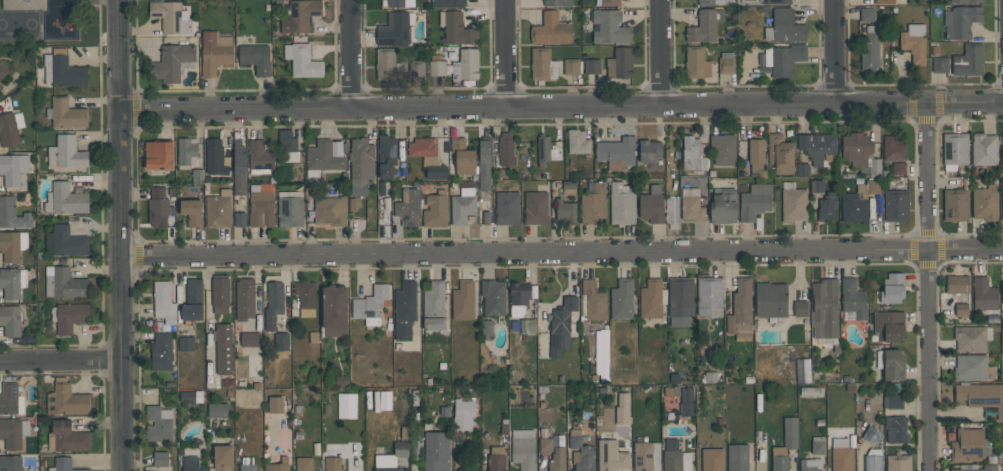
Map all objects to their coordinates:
building: (883, 1)
building: (966, 1)
building: (556, 2)
building: (608, 2)
building: (710, 2)
building: (776, 2)
building: (400, 3)
building: (448, 3)
building: (23, 4)
building: (867, 14)
building: (300, 15)
building: (170, 16)
building: (960, 21)
building: (704, 26)
building: (610, 27)
building: (784, 27)
building: (395, 28)
building: (551, 29)
building: (457, 30)
building: (913, 43)
building: (870, 49)
building: (214, 51)
road: (831, 52)
road: (658, 53)
road: (504, 54)
road: (348, 55)
building: (256, 58)
building: (784, 58)
building: (968, 60)
building: (302, 61)
building: (172, 62)
building: (619, 63)
building: (696, 63)
building: (726, 63)
building: (385, 64)
building: (542, 64)
building: (940, 64)
building: (466, 65)
building: (571, 66)
building: (592, 66)
building: (416, 68)
building: (437, 68)
building: (62, 69)
building: (2, 70)
building: (0, 86)
road: (563, 108)
building: (67, 113)
building: (10, 127)
building: (577, 141)
building: (287, 145)
building: (817, 146)
building: (506, 149)
building: (723, 149)
building: (893, 149)
building: (984, 149)
building: (424, 150)
building: (543, 150)
building: (649, 150)
building: (954, 150)
building: (187, 151)
building: (857, 151)
building: (66, 152)
building: (616, 152)
building: (692, 154)
building: (780, 154)
building: (158, 155)
building: (386, 156)
building: (1002, 156)
building: (259, 157)
building: (463, 157)
building: (756, 157)
building: (216, 158)
building: (322, 158)
building: (484, 164)
building: (361, 165)
building: (239, 167)
building: (875, 167)
building: (898, 167)
building: (13, 168)
building: (802, 169)
building: (436, 172)
building: (197, 175)
building: (816, 186)
building: (872, 187)
building: (65, 199)
building: (755, 201)
building: (985, 202)
building: (622, 203)
building: (593, 204)
building: (794, 204)
building: (261, 205)
building: (652, 205)
building: (691, 205)
building: (895, 205)
building: (955, 205)
building: (463, 206)
building: (723, 206)
building: (1002, 206)
building: (158, 207)
building: (506, 207)
building: (535, 207)
building: (827, 207)
building: (853, 207)
building: (290, 208)
building: (408, 208)
building: (218, 209)
building: (435, 209)
building: (330, 211)
building: (565, 211)
building: (191, 212)
building: (12, 213)
building: (239, 219)
road: (124, 235)
building: (65, 241)
building: (12, 245)
road: (564, 252)
building: (12, 282)
building: (64, 283)
building: (957, 284)
road: (927, 286)
building: (891, 289)
building: (1002, 290)
building: (220, 293)
building: (984, 294)
building: (493, 296)
building: (709, 296)
building: (305, 297)
building: (853, 297)
building: (519, 298)
building: (651, 298)
building: (245, 299)
building: (622, 299)
building: (192, 300)
building: (463, 300)
building: (770, 300)
building: (591, 301)
building: (163, 302)
building: (679, 302)
building: (273, 304)
building: (370, 305)
building: (434, 306)
building: (800, 308)
building: (404, 309)
building: (825, 309)
building: (961, 310)
building: (334, 311)
building: (740, 311)
building: (69, 316)
building: (11, 320)
building: (888, 325)
building: (528, 326)
building: (560, 326)
building: (486, 329)
building: (972, 337)
building: (249, 339)
building: (1002, 339)
building: (281, 341)
building: (185, 343)
building: (224, 348)
building: (161, 352)
building: (601, 353)
road: (62, 361)
building: (891, 363)
building: (973, 368)
building: (803, 371)
building: (672, 391)
building: (190, 396)
building: (981, 396)
building: (11, 399)
building: (67, 400)
building: (686, 401)
building: (892, 401)
building: (385, 402)
building: (275, 404)
building: (622, 409)
building: (218, 410)
building: (463, 415)
road: (103, 422)
building: (158, 423)
building: (896, 429)
building: (13, 432)
building: (790, 432)
building: (871, 435)
building: (67, 437)
building: (545, 444)
building: (970, 445)
building: (817, 447)
building: (401, 449)
building: (523, 449)
building: (436, 451)
building: (580, 452)
building: (841, 455)
building: (611, 456)
building: (647, 456)
building: (675, 457)
building: (737, 457)
building: (160, 458)
building: (496, 459)
building: (779, 459)
building: (557, 460)
building: (712, 460)
building: (873, 460)
building: (11, 463)
building: (190, 463)
building: (385, 463)
building: (899, 463)
building: (304, 464)
building: (333, 464)
building: (810, 464)
building: (65, 465)
building: (278, 465)
building: (247, 467)
building: (989, 467)

